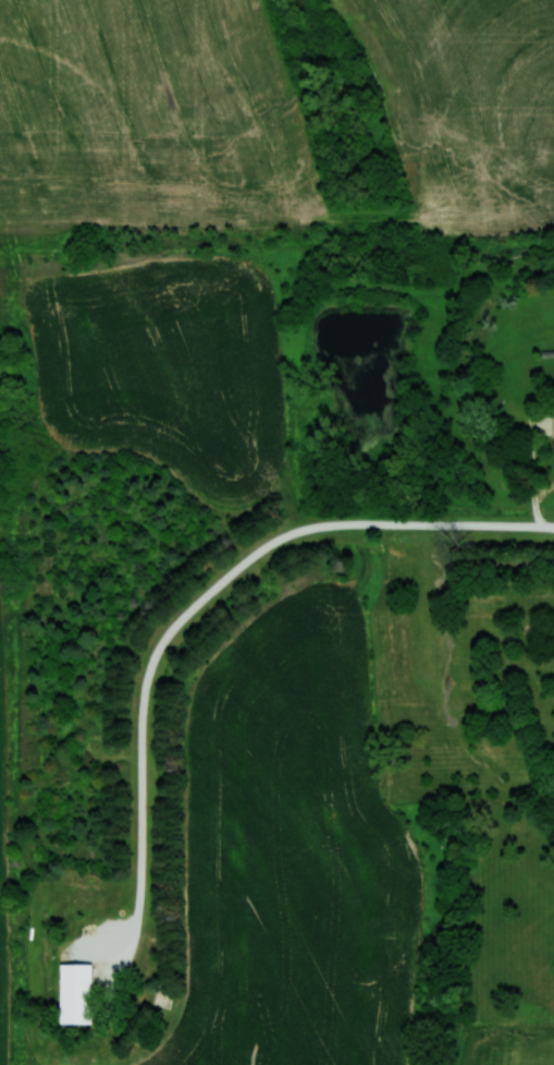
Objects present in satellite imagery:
crop: (466, 107)
crop: (150, 118)
crop: (165, 368)
road: (343, 523)
road: (472, 524)
road: (143, 709)
crop: (293, 852)
crop: (0, 984)
building: (76, 993)

